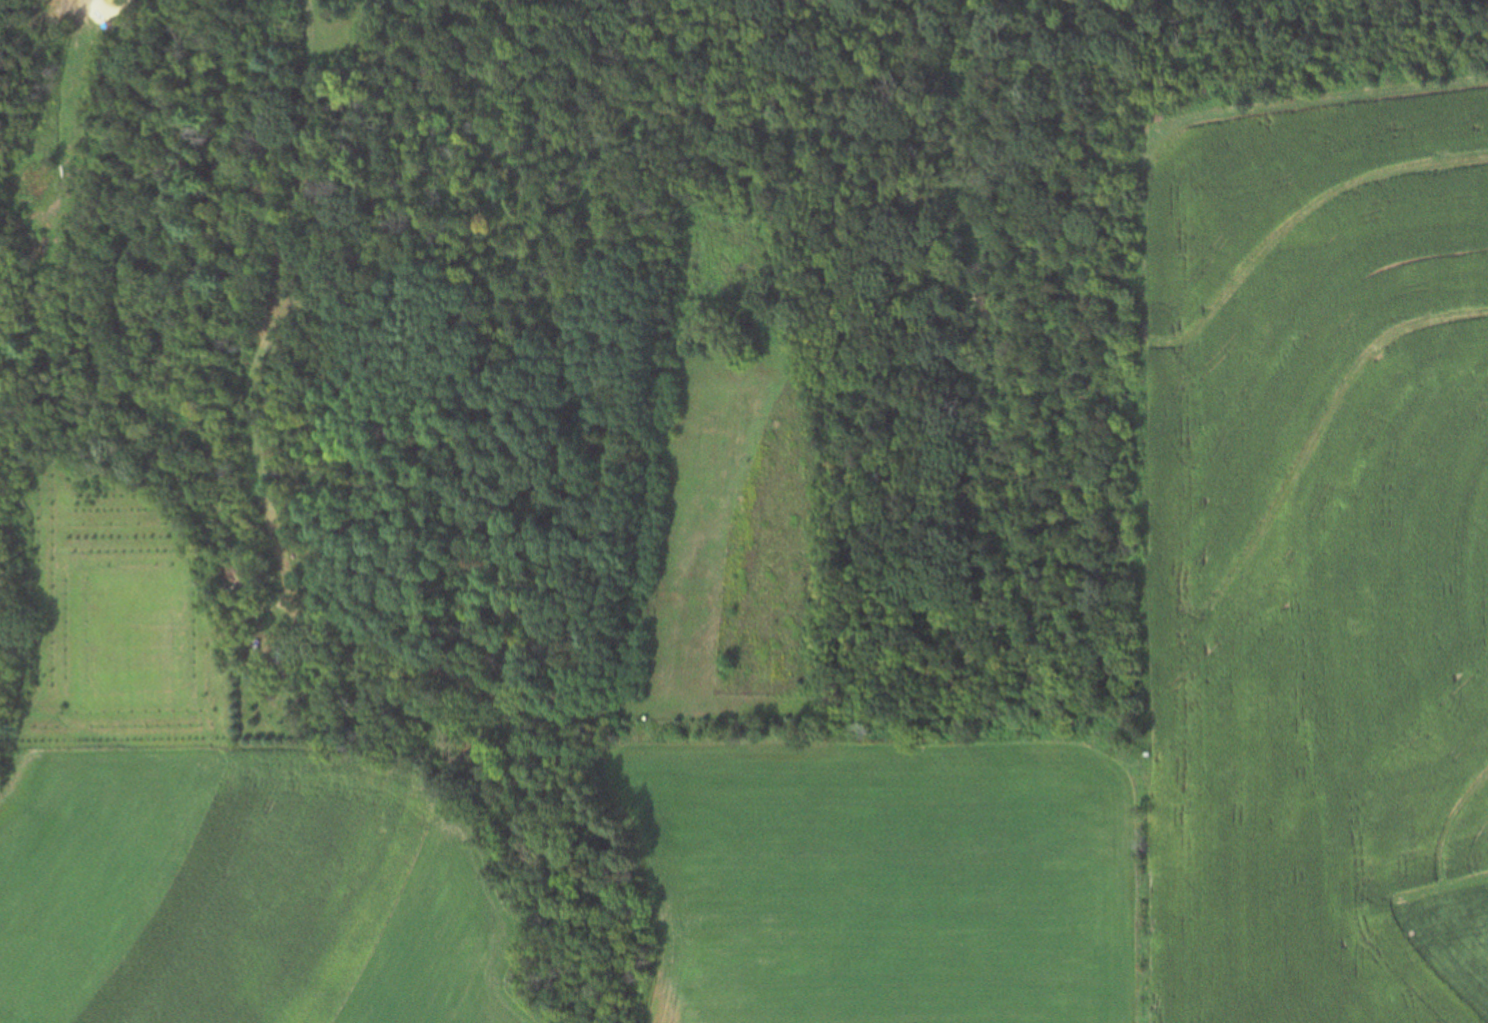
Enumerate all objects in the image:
road: (329, 859)

